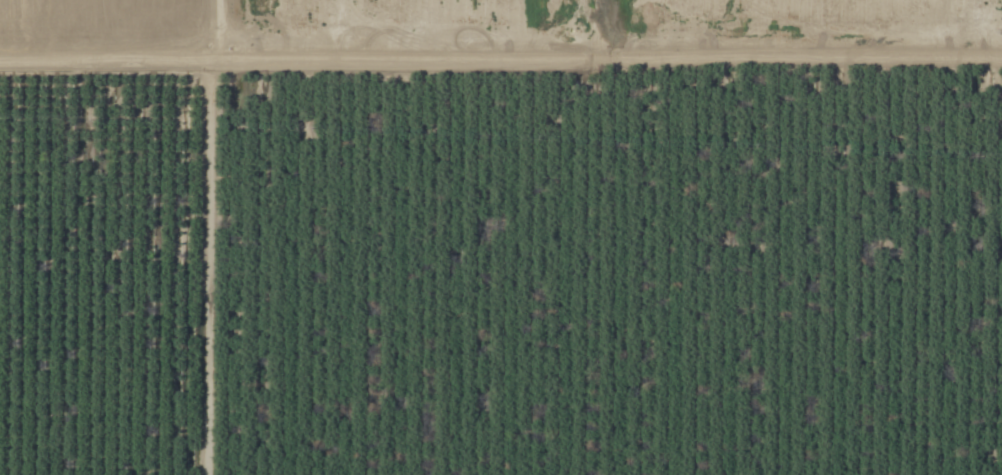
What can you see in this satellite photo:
road: (501, 92)
crop: (501, 237)
road: (175, 287)

